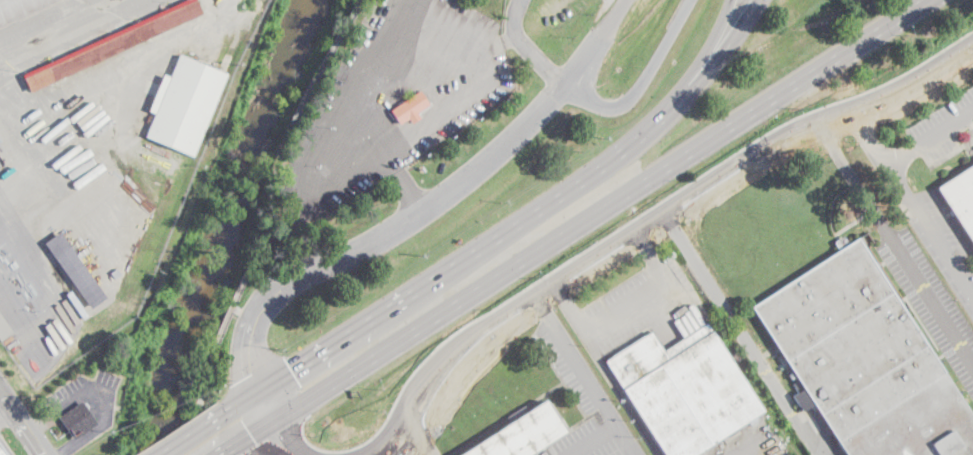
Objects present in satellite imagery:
road: (258, 3)
building: (18, 8)
road: (51, 24)
road: (587, 39)
road: (498, 41)
building: (112, 44)
road: (526, 45)
road: (133, 62)
road: (697, 64)
road: (713, 67)
helipad: (388, 71)
road: (929, 81)
road: (642, 83)
parking lot: (392, 97)
building: (184, 104)
building: (410, 108)
road: (850, 123)
parking lot: (941, 127)
park: (280, 130)
road: (867, 136)
road: (930, 138)
road: (491, 146)
road: (36, 154)
road: (351, 172)
road: (746, 176)
road: (401, 182)
building: (960, 198)
road: (422, 210)
road: (604, 213)
road: (650, 216)
road: (672, 222)
road: (35, 229)
road: (930, 231)
road: (657, 232)
road: (894, 241)
road: (641, 242)
road: (338, 246)
road: (24, 251)
road: (648, 252)
road: (601, 268)
building: (75, 270)
road: (441, 271)
road: (240, 282)
road: (552, 300)
parking lot: (632, 302)
road: (624, 304)
road: (243, 311)
road: (18, 316)
building: (4, 329)
road: (740, 332)
road: (211, 356)
park: (155, 359)
road: (470, 361)
building: (862, 361)
road: (604, 368)
traffic signals: (291, 369)
road: (252, 372)
traffic signals: (248, 373)
road: (586, 373)
road: (295, 384)
building: (684, 390)
road: (104, 391)
parking lot: (584, 403)
road: (7, 411)
road: (268, 416)
road: (24, 420)
building: (78, 420)
road: (238, 422)
road: (188, 433)
road: (420, 434)
building: (521, 434)
road: (277, 436)
traffic signals: (253, 438)
traffic signals: (280, 438)
road: (593, 439)
road: (249, 440)
road: (281, 440)
road: (429, 441)
road: (5, 447)
road: (245, 451)
road: (751, 451)
building: (2, 452)
road: (428, 452)
road: (637, 454)

